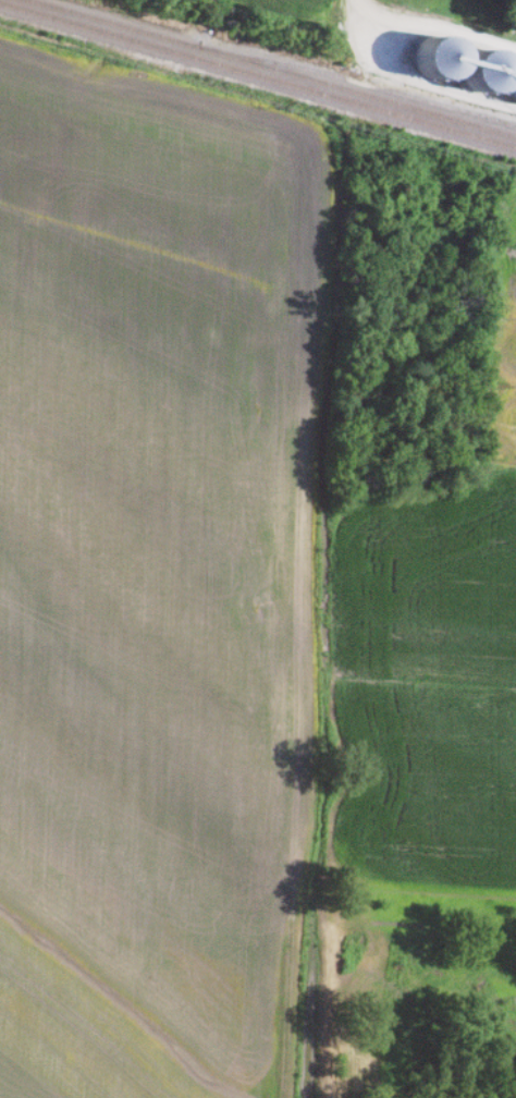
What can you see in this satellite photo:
road: (361, 1)
road: (437, 29)
building: (434, 59)
railway: (271, 70)
building: (482, 73)
railway: (257, 78)
building: (513, 82)
railway: (361, 83)

